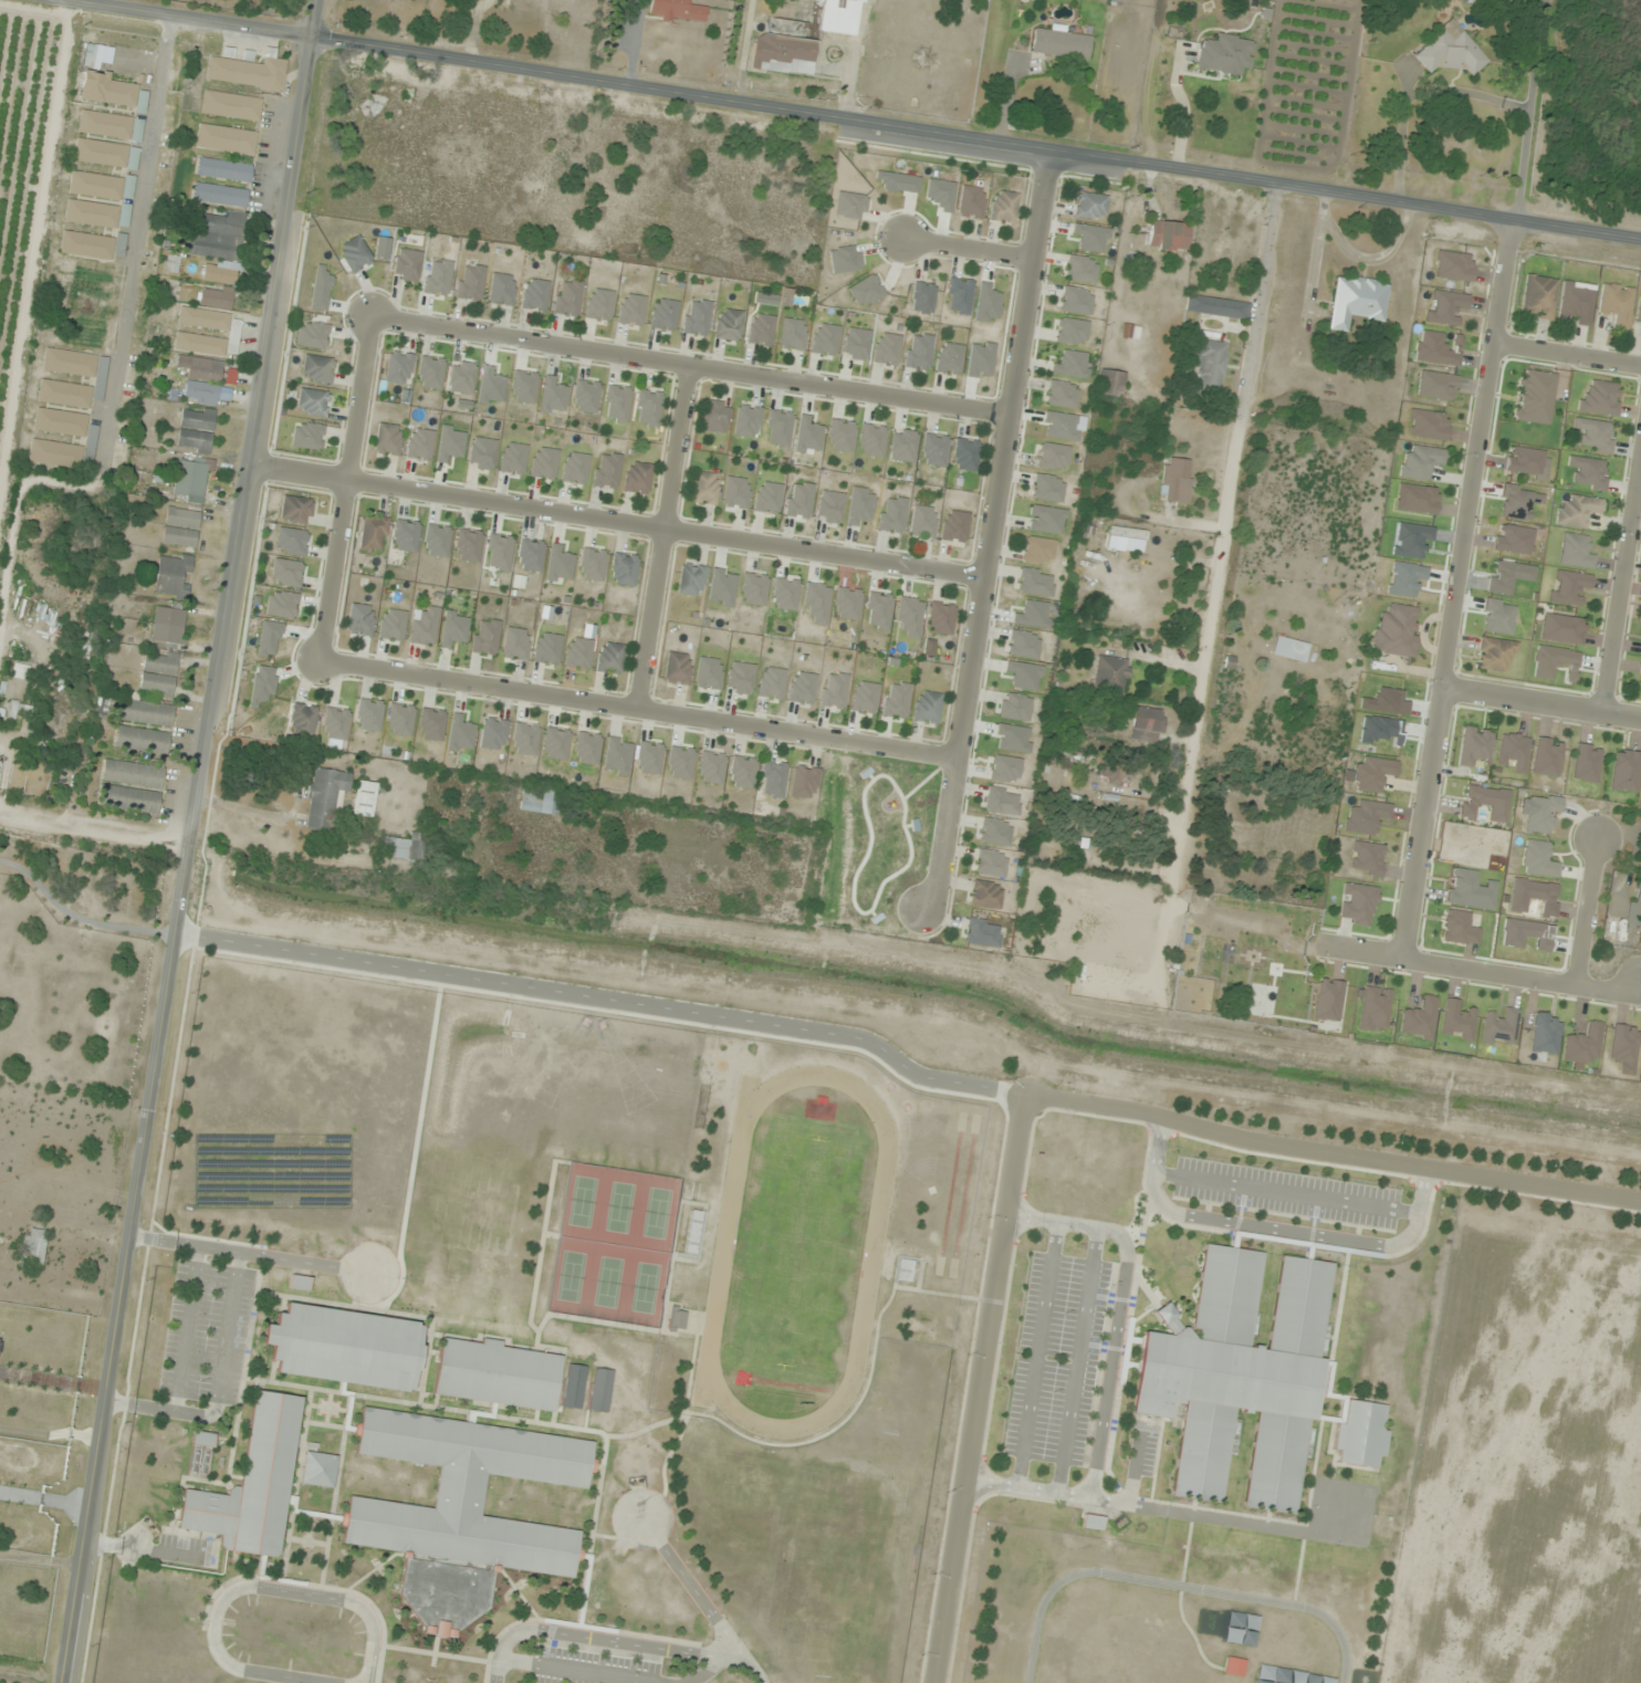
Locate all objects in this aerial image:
building: (677, 10)
road: (200, 18)
building: (802, 38)
building: (1060, 43)
building: (1450, 51)
building: (1225, 54)
building: (109, 91)
building: (231, 105)
building: (105, 125)
road: (975, 138)
building: (226, 139)
building: (101, 153)
building: (223, 169)
building: (101, 186)
building: (219, 195)
building: (971, 202)
building: (850, 206)
building: (1090, 206)
building: (1003, 207)
building: (91, 213)
building: (1169, 236)
building: (86, 245)
building: (218, 245)
road: (969, 249)
building: (355, 254)
building: (173, 263)
building: (407, 265)
building: (1454, 265)
building: (1081, 269)
building: (438, 278)
building: (470, 283)
building: (502, 290)
building: (866, 291)
building: (534, 294)
building: (959, 295)
building: (215, 297)
building: (567, 297)
building: (922, 297)
building: (1537, 297)
building: (1357, 301)
building: (1577, 303)
building: (599, 304)
building: (1616, 304)
building: (1216, 307)
building: (1446, 307)
building: (631, 310)
building: (1639, 311)
building: (663, 314)
building: (697, 317)
building: (729, 324)
building: (761, 330)
building: (1072, 332)
building: (793, 334)
building: (189, 335)
building: (313, 335)
building: (825, 339)
building: (856, 344)
building: (887, 348)
building: (1436, 349)
building: (919, 352)
road: (1567, 356)
building: (949, 358)
building: (70, 363)
road: (692, 365)
building: (1210, 366)
building: (399, 367)
building: (317, 369)
building: (461, 377)
building: (206, 383)
building: (1110, 383)
building: (524, 386)
building: (1436, 386)
building: (64, 394)
building: (1062, 394)
building: (586, 396)
building: (553, 397)
building: (1534, 397)
building: (1600, 398)
building: (312, 403)
building: (617, 404)
building: (648, 408)
building: (715, 417)
building: (748, 420)
building: (60, 422)
building: (1429, 425)
building: (778, 428)
building: (196, 430)
building: (1595, 435)
building: (307, 436)
building: (840, 436)
building: (388, 439)
building: (872, 440)
building: (420, 445)
building: (903, 446)
building: (933, 450)
building: (64, 452)
building: (482, 453)
building: (965, 454)
building: (1053, 457)
building: (513, 459)
building: (1420, 462)
building: (544, 463)
building: (1527, 463)
building: (575, 468)
building: (607, 470)
building: (1589, 472)
building: (191, 477)
building: (638, 478)
building: (1175, 480)
road: (346, 488)
building: (1047, 488)
building: (705, 489)
building: (736, 493)
building: (767, 498)
building: (1417, 499)
building: (799, 500)
building: (1519, 501)
building: (830, 508)
building: (295, 510)
building: (1577, 511)
building: (892, 514)
road: (617, 522)
building: (923, 522)
building: (954, 526)
building: (181, 527)
road: (993, 529)
road: (1223, 529)
building: (374, 533)
building: (1128, 533)
building: (406, 535)
road: (665, 537)
building: (1514, 540)
building: (291, 542)
building: (468, 545)
building: (1038, 550)
building: (1576, 552)
building: (499, 553)
building: (531, 555)
building: (592, 565)
building: (624, 569)
building: (286, 573)
building: (173, 575)
building: (1509, 576)
building: (691, 579)
building: (1035, 583)
building: (1568, 586)
road: (1621, 587)
building: (753, 589)
road: (1457, 589)
building: (785, 594)
building: (817, 602)
building: (282, 604)
building: (847, 604)
building: (878, 610)
building: (910, 616)
building: (1498, 616)
building: (940, 618)
building: (360, 620)
building: (391, 625)
building: (167, 627)
building: (425, 628)
building: (1561, 629)
building: (1396, 631)
building: (485, 637)
building: (516, 644)
building: (1289, 649)
building: (578, 654)
building: (1495, 654)
building: (610, 658)
building: (160, 662)
building: (1555, 662)
building: (677, 669)
building: (709, 673)
building: (1110, 675)
building: (1640, 675)
building: (740, 678)
building: (771, 683)
building: (157, 684)
building: (803, 688)
building: (834, 690)
building: (865, 698)
building: (896, 700)
road: (1541, 704)
building: (927, 707)
building: (1015, 707)
road: (639, 711)
building: (146, 712)
building: (369, 715)
building: (303, 719)
building: (400, 720)
building: (3, 721)
building: (1148, 723)
building: (335, 724)
building: (431, 724)
building: (493, 734)
building: (524, 739)
building: (142, 740)
building: (556, 744)
building: (1474, 746)
building: (587, 749)
building: (1514, 752)
building: (617, 756)
building: (1547, 757)
building: (649, 759)
building: (680, 763)
building: (1587, 764)
building: (711, 767)
building: (1004, 770)
building: (742, 772)
building: (1626, 772)
building: (133, 774)
building: (1372, 774)
building: (773, 780)
building: (804, 782)
building: (324, 797)
building: (364, 798)
building: (128, 799)
building: (539, 801)
building: (1002, 801)
building: (1485, 803)
building: (1541, 814)
building: (1366, 817)
road: (189, 841)
building: (405, 848)
building: (1367, 859)
building: (1537, 859)
building: (991, 864)
building: (986, 895)
building: (1534, 897)
building: (1358, 905)
building: (1634, 907)
road: (1587, 912)
building: (1459, 929)
building: (982, 932)
building: (1526, 934)
road: (1477, 970)
road: (605, 999)
building: (1328, 1000)
building: (1375, 1008)
building: (1419, 1018)
building: (1457, 1021)
building: (1501, 1029)
building: (1545, 1034)
building: (1583, 1045)
building: (1624, 1048)
road: (1331, 1153)
road: (1286, 1192)
road: (1278, 1230)
road: (182, 1244)
road: (304, 1263)
building: (299, 1284)
building: (676, 1319)
road: (187, 1329)
building: (0, 1338)
building: (344, 1348)
road: (1037, 1355)
road: (1077, 1361)
road: (1110, 1367)
building: (495, 1376)
building: (1238, 1377)
road: (219, 1387)
building: (573, 1388)
road: (979, 1389)
building: (599, 1391)
building: (1360, 1435)
building: (202, 1440)
road: (1133, 1468)
building: (317, 1471)
building: (251, 1484)
building: (468, 1494)
road: (1203, 1516)
building: (1091, 1523)
road: (249, 1587)
road: (692, 1588)
road: (616, 1641)
parking lot: (589, 1668)
building: (1233, 1668)
road: (576, 1671)
road: (705, 1671)
road: (368, 1675)

